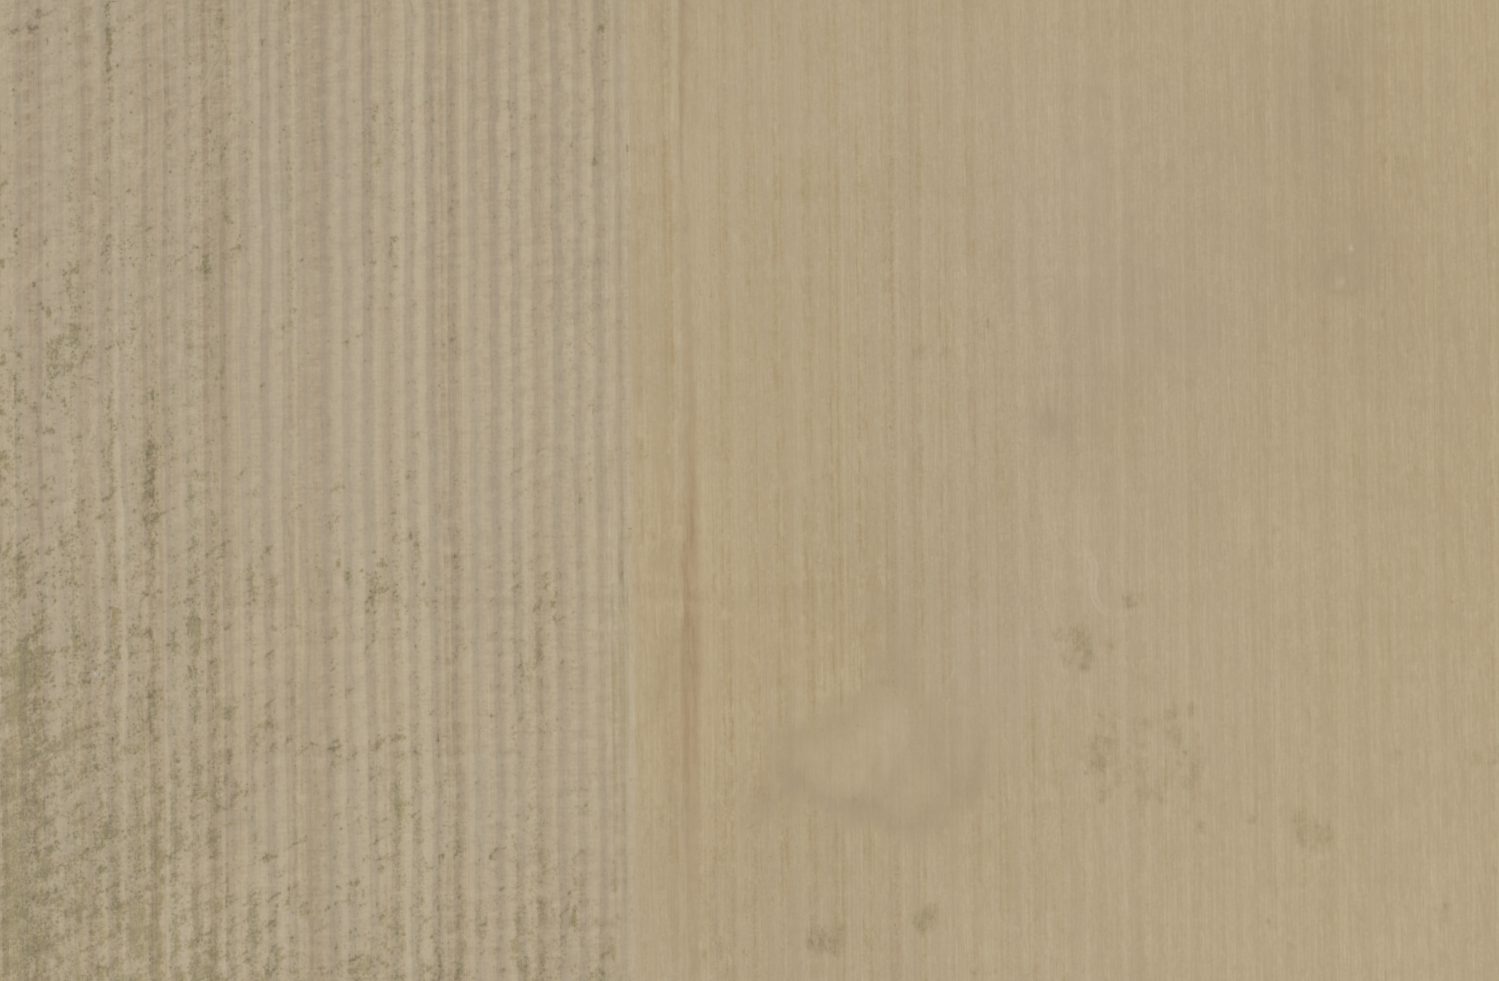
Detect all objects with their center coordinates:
road: (528, 563)

